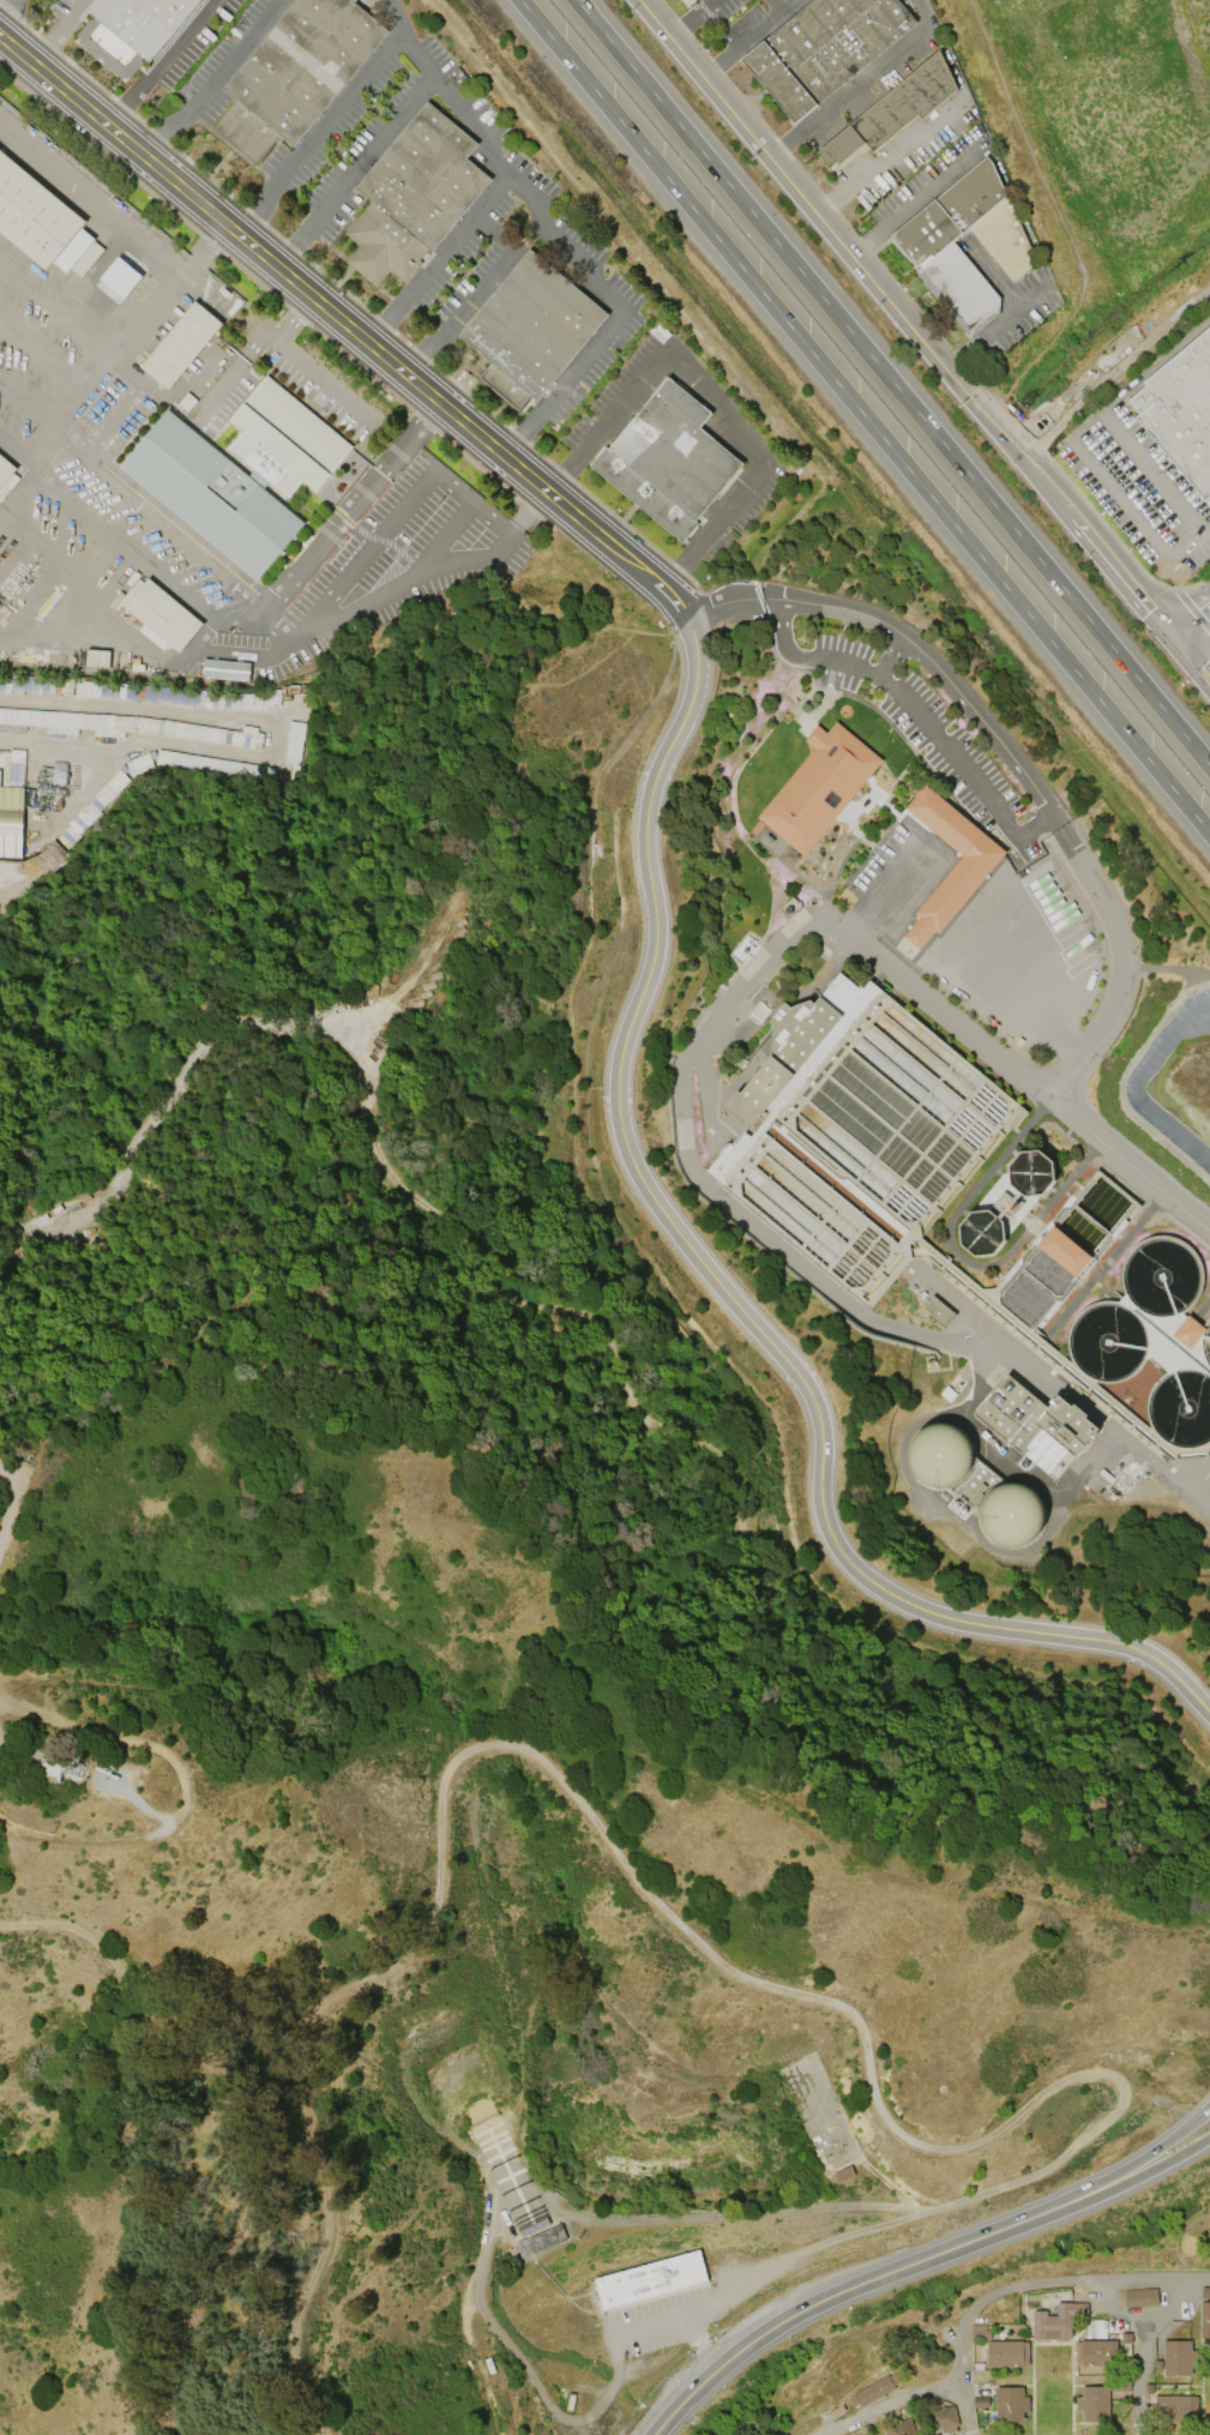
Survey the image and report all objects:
building: (690, 0)
road: (917, 4)
road: (5, 6)
road: (690, 17)
building: (128, 29)
road: (54, 30)
road: (747, 37)
building: (824, 48)
road: (415, 50)
road: (159, 62)
road: (700, 72)
building: (294, 73)
road: (213, 80)
road: (856, 82)
road: (464, 110)
building: (896, 112)
road: (325, 116)
road: (885, 154)
building: (414, 197)
road: (90, 199)
road: (910, 199)
building: (42, 223)
road: (495, 228)
road: (559, 242)
road: (201, 247)
building: (932, 252)
building: (120, 277)
road: (58, 305)
road: (462, 311)
road: (994, 323)
building: (530, 329)
building: (183, 344)
road: (42, 356)
road: (300, 361)
road: (560, 380)
road: (892, 383)
road: (84, 387)
road: (708, 389)
road: (964, 392)
road: (28, 405)
building: (1180, 410)
road: (865, 416)
road: (16, 457)
building: (667, 461)
road: (1149, 468)
building: (7, 474)
building: (237, 474)
building: (359, 498)
road: (470, 500)
road: (162, 515)
road: (1132, 516)
road: (121, 545)
road: (490, 553)
road: (289, 575)
road: (97, 600)
building: (158, 615)
road: (1192, 620)
traffic signals: (1174, 636)
road: (890, 649)
road: (240, 656)
road: (1192, 657)
building: (155, 695)
road: (110, 708)
road: (917, 709)
building: (128, 727)
building: (293, 744)
road: (1012, 754)
building: (180, 770)
building: (819, 787)
building: (11, 822)
road: (649, 877)
road: (1004, 880)
building: (958, 885)
road: (893, 894)
road: (997, 936)
road: (1031, 973)
wastewater plant: (949, 1064)
building: (855, 1131)
road: (1134, 1162)
road: (703, 1180)
building: (1006, 1203)
building: (1106, 1204)
building: (1066, 1250)
building: (939, 1312)
building: (1187, 1331)
building: (1036, 1418)
building: (975, 1485)
road: (121, 1743)
communications tower: (68, 1769)
road: (152, 1808)
road: (97, 1847)
road: (881, 2098)
road: (311, 2120)
road: (149, 2134)
road: (1161, 2145)
road: (1162, 2163)
building: (845, 2175)
road: (668, 2219)
building: (542, 2243)
building: (649, 2279)
road: (866, 2281)
building: (1205, 2292)
building: (1139, 2297)
road: (983, 2302)
road: (715, 2304)
building: (1205, 2320)
building: (1057, 2321)
road: (1143, 2325)
building: (980, 2332)
road: (648, 2337)
road: (498, 2341)
road: (704, 2351)
building: (1007, 2353)
building: (1096, 2353)
building: (1178, 2358)
road: (714, 2362)
road: (1142, 2380)
building: (874, 2391)
building: (981, 2403)
road: (965, 2404)
building: (1010, 2404)
building: (1092, 2404)
building: (1175, 2409)
building: (943, 2419)
building: (899, 2428)

